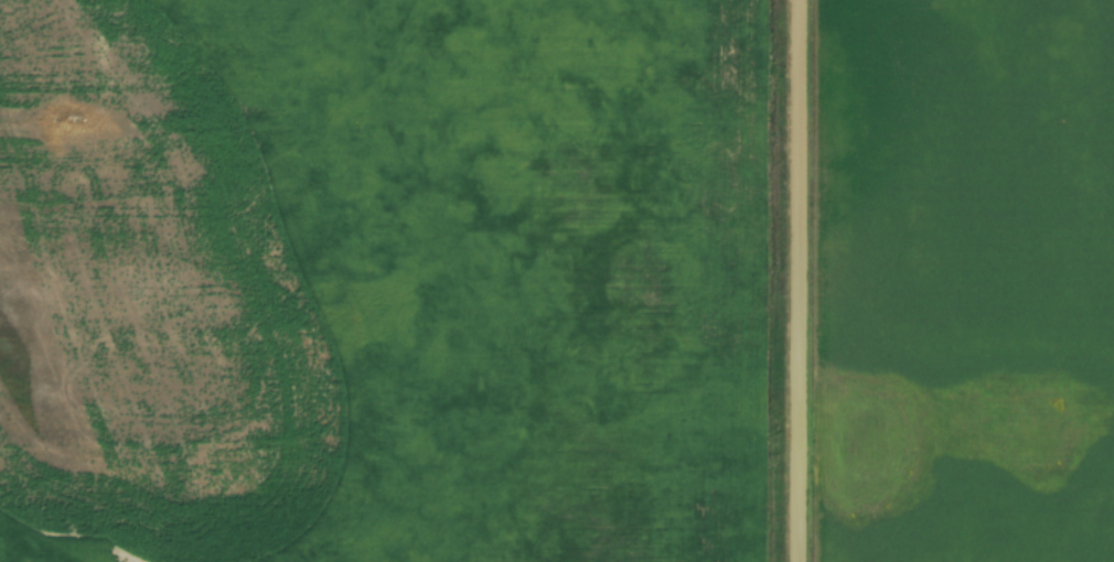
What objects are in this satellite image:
road: (797, 281)

